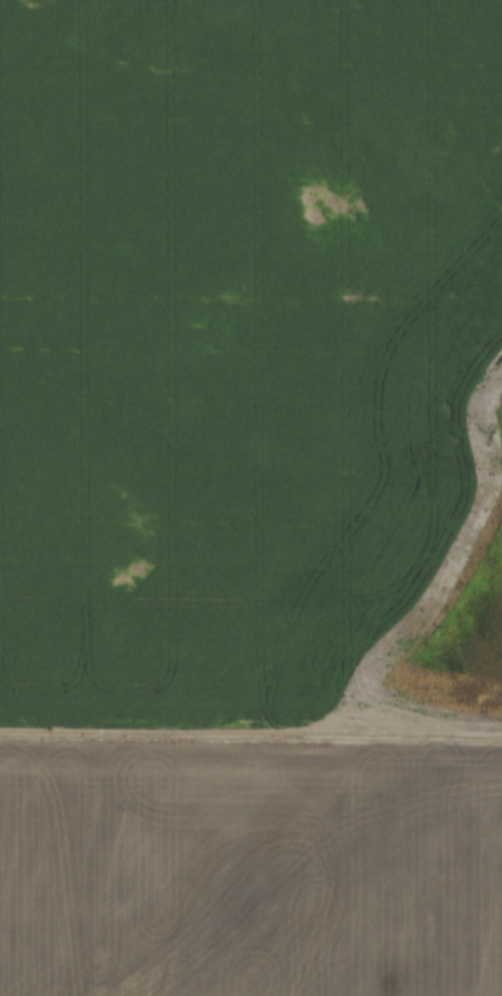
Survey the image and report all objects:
road: (251, 721)

